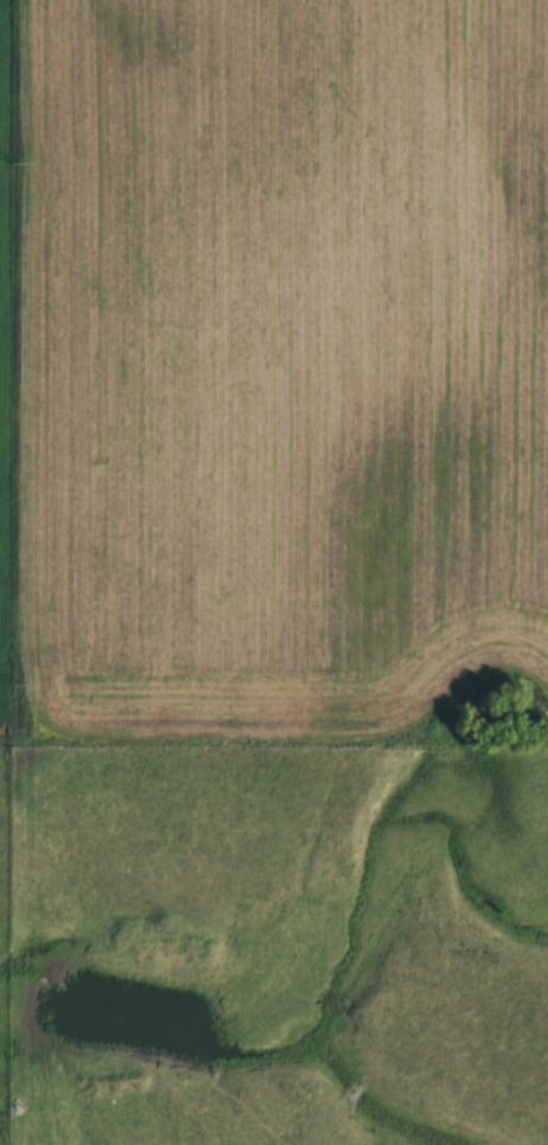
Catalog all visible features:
power tower: (14, 163)
power tower: (14, 684)

